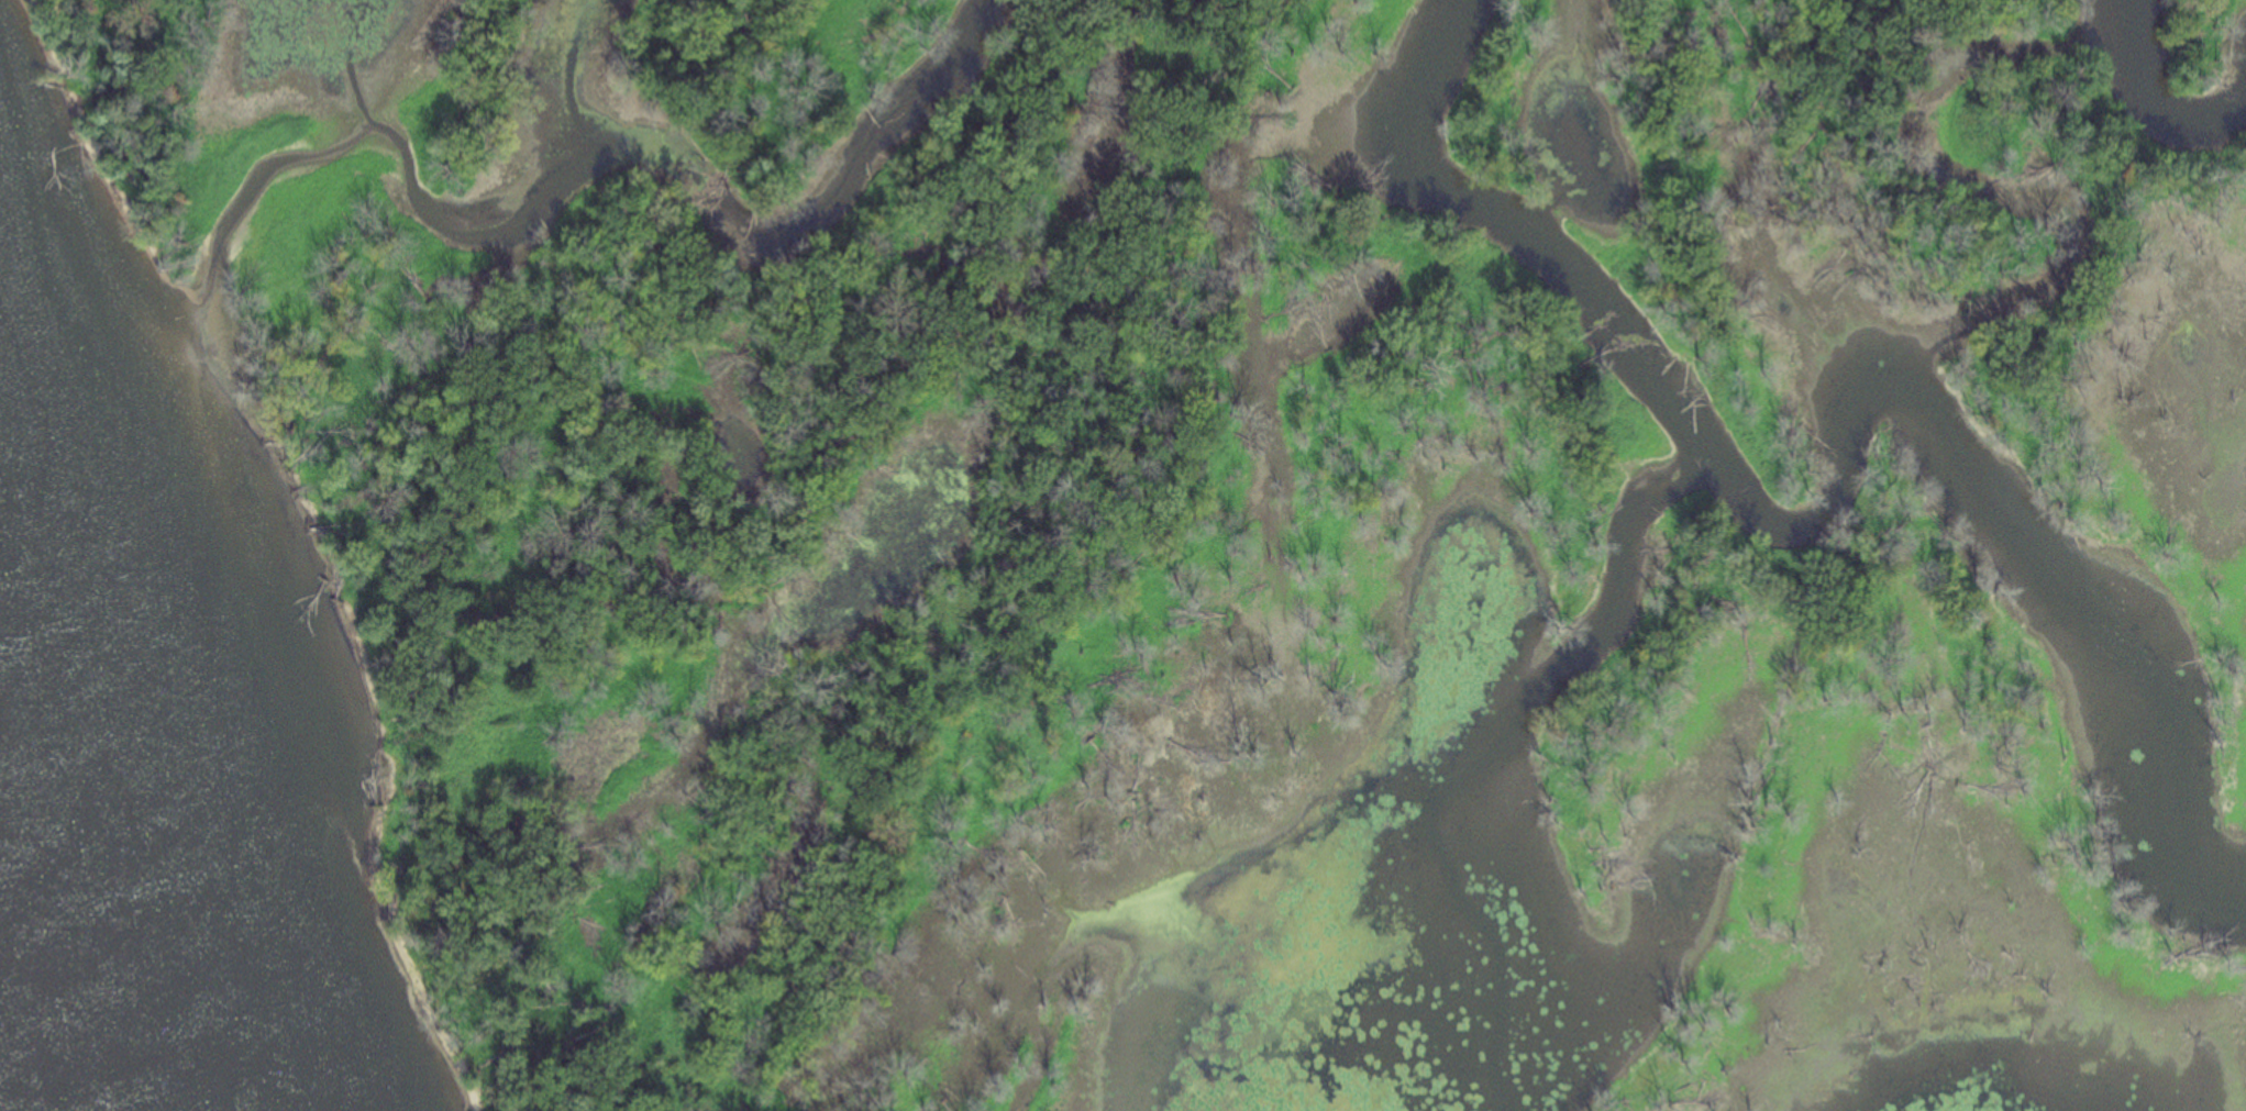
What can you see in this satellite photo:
river: (1, 1107)

